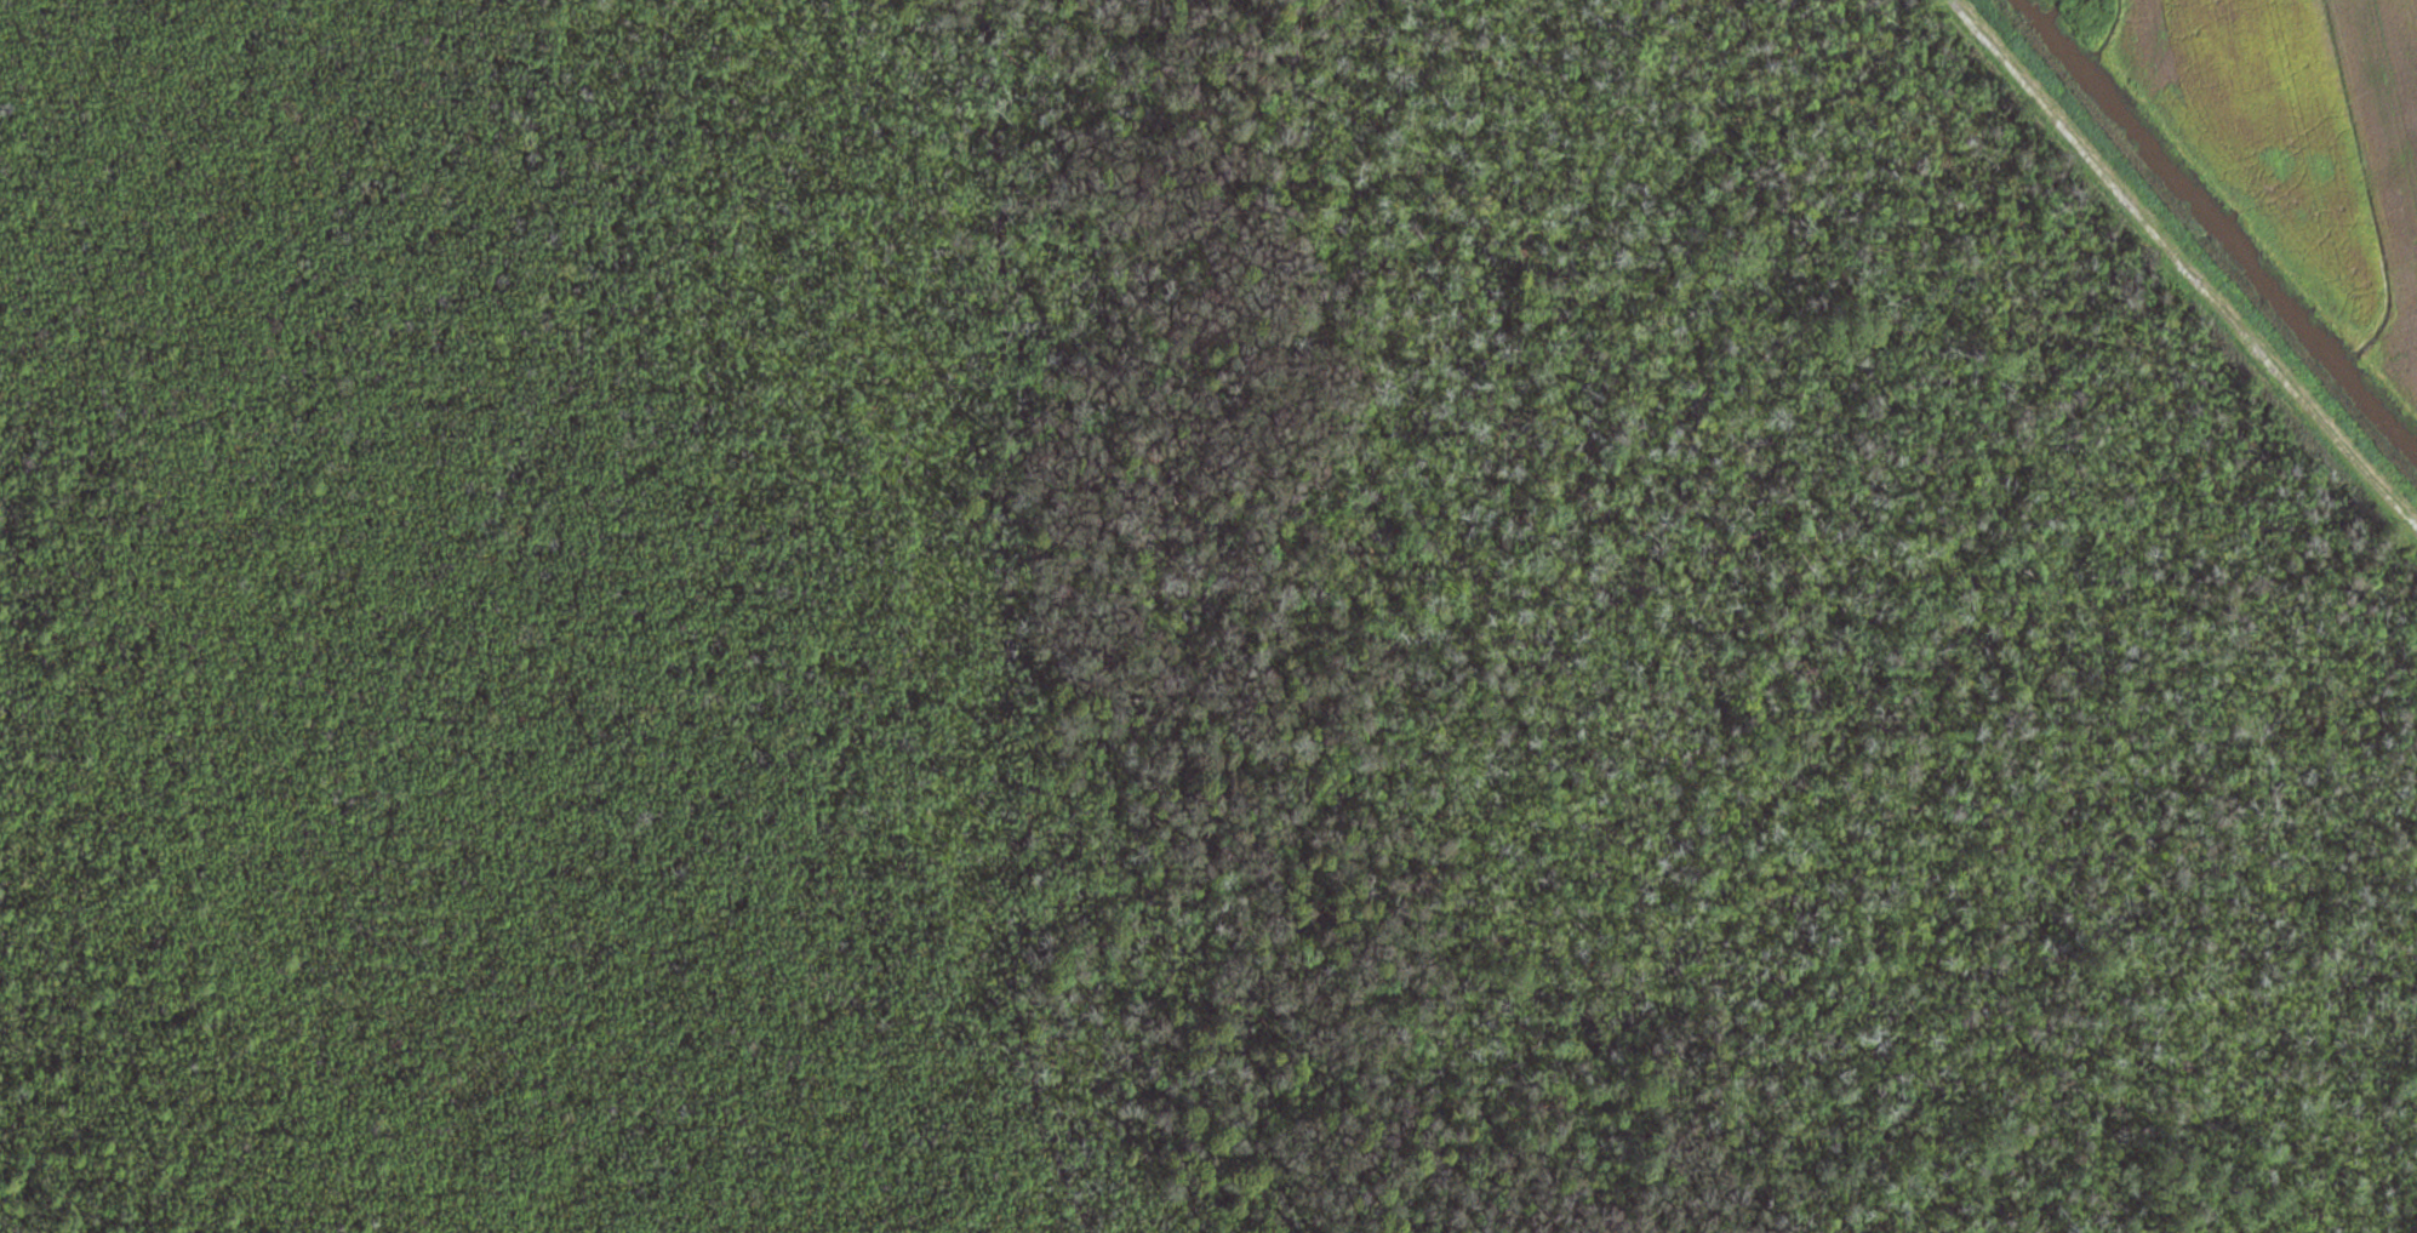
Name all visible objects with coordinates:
crop: (2298, 147)
road: (2184, 269)

